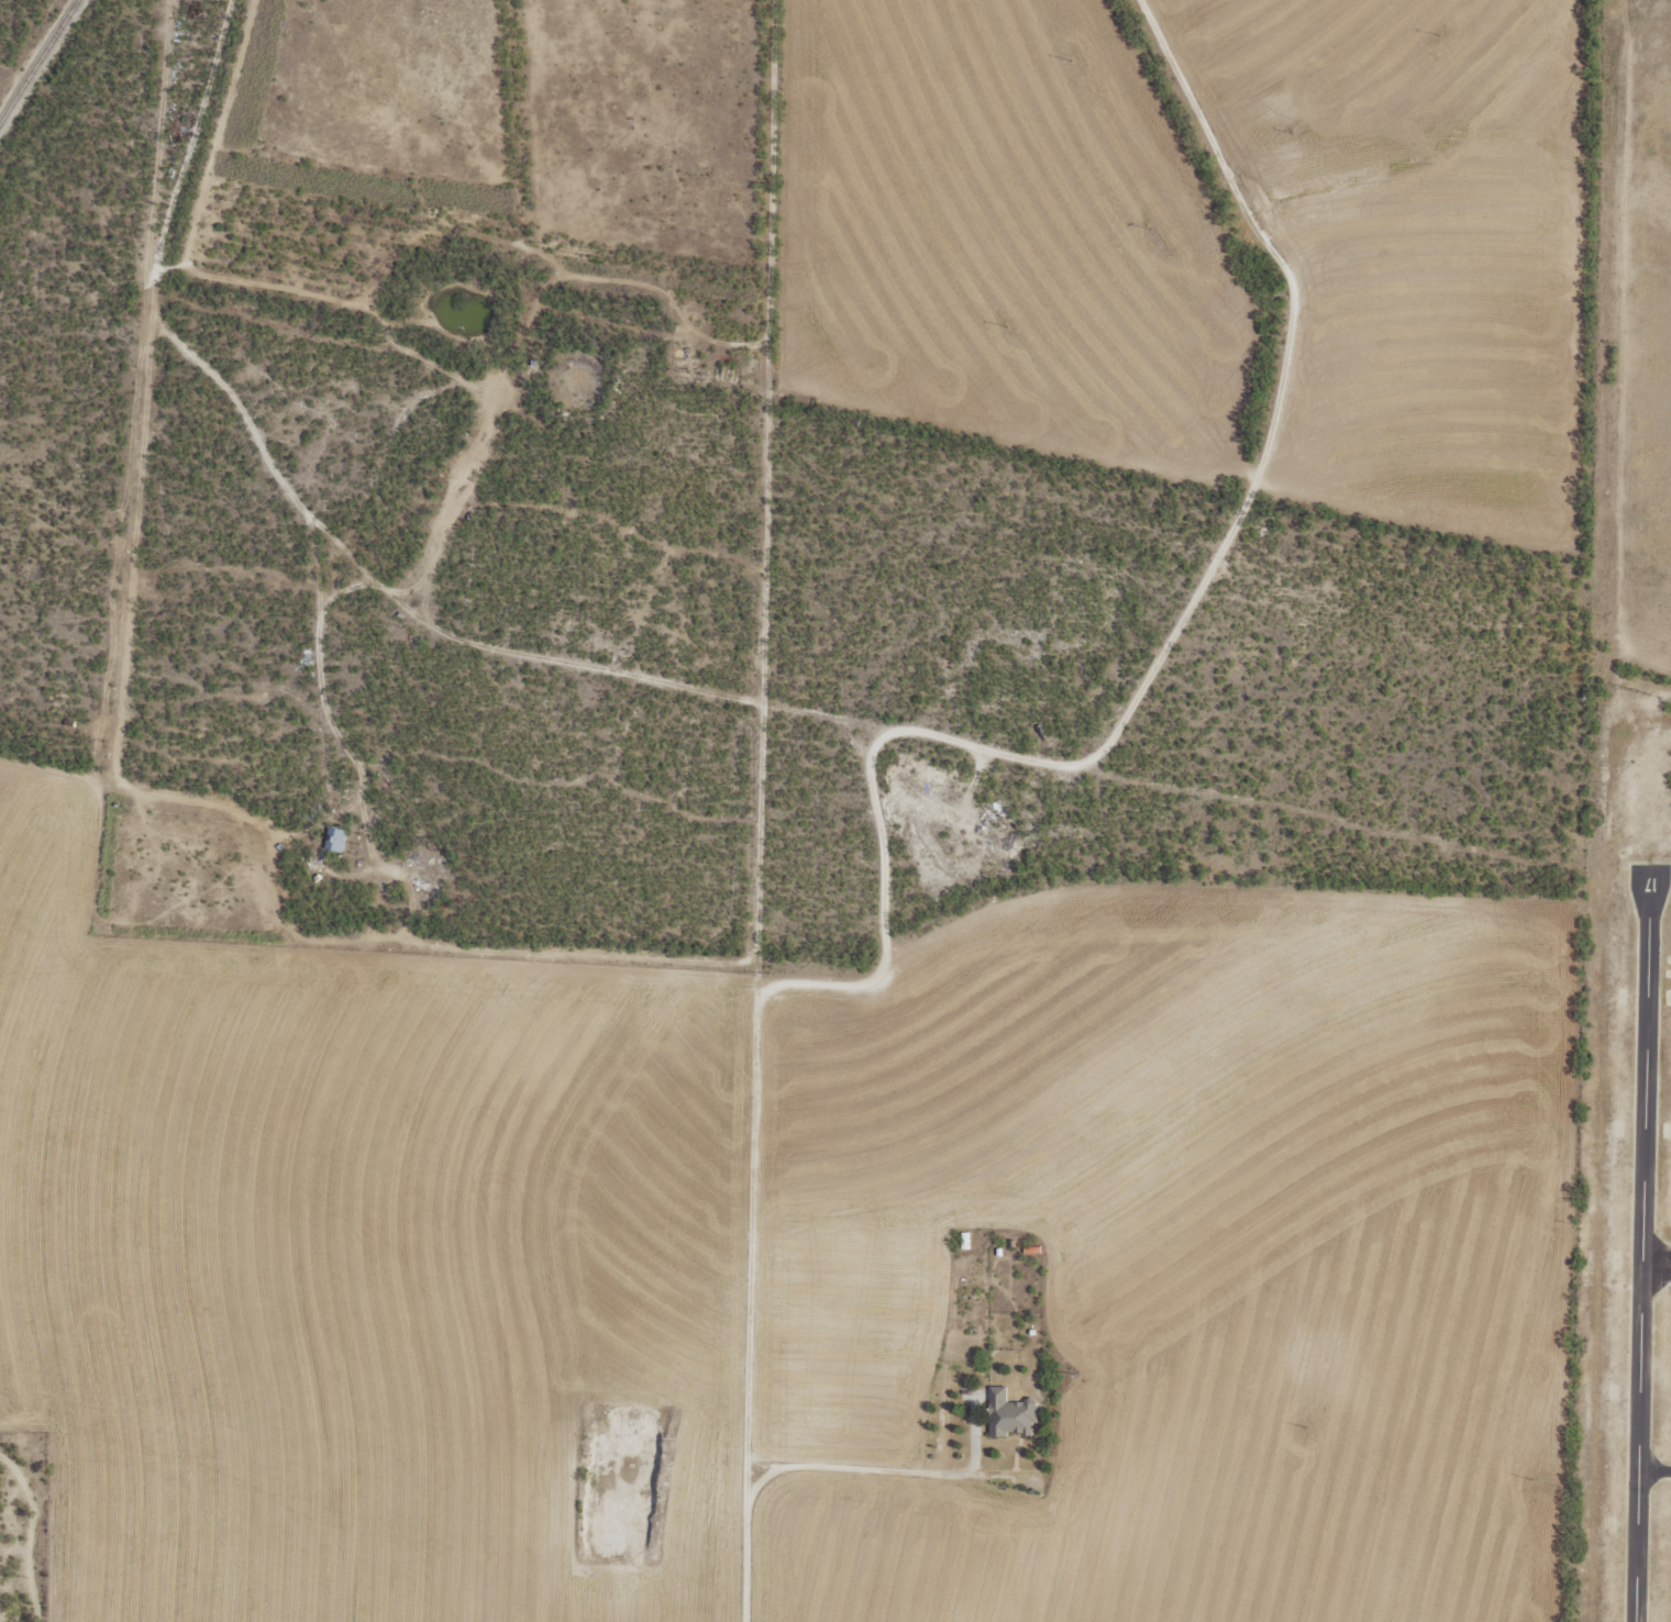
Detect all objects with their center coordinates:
railway: (37, 58)
road: (764, 352)
road: (1630, 352)
road: (1275, 393)
road: (605, 671)
building: (335, 840)
airport: (1627, 1169)
airport runway: (1639, 1244)
building: (1009, 1414)

